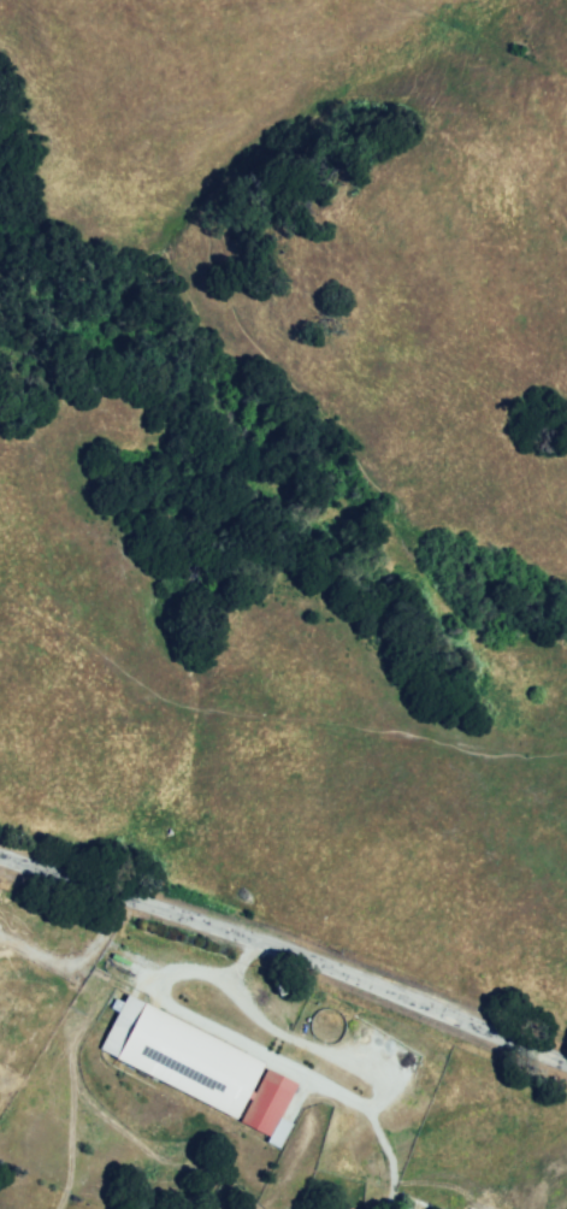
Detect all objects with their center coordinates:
road: (285, 953)
building: (177, 1067)
road: (290, 1084)
building: (265, 1111)

